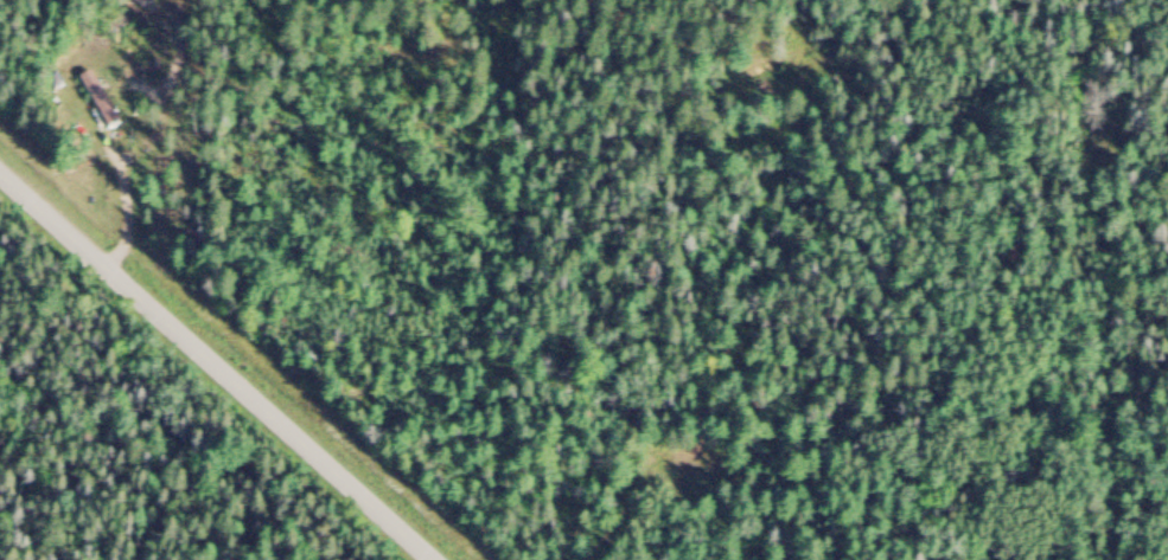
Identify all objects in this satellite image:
road: (211, 369)

